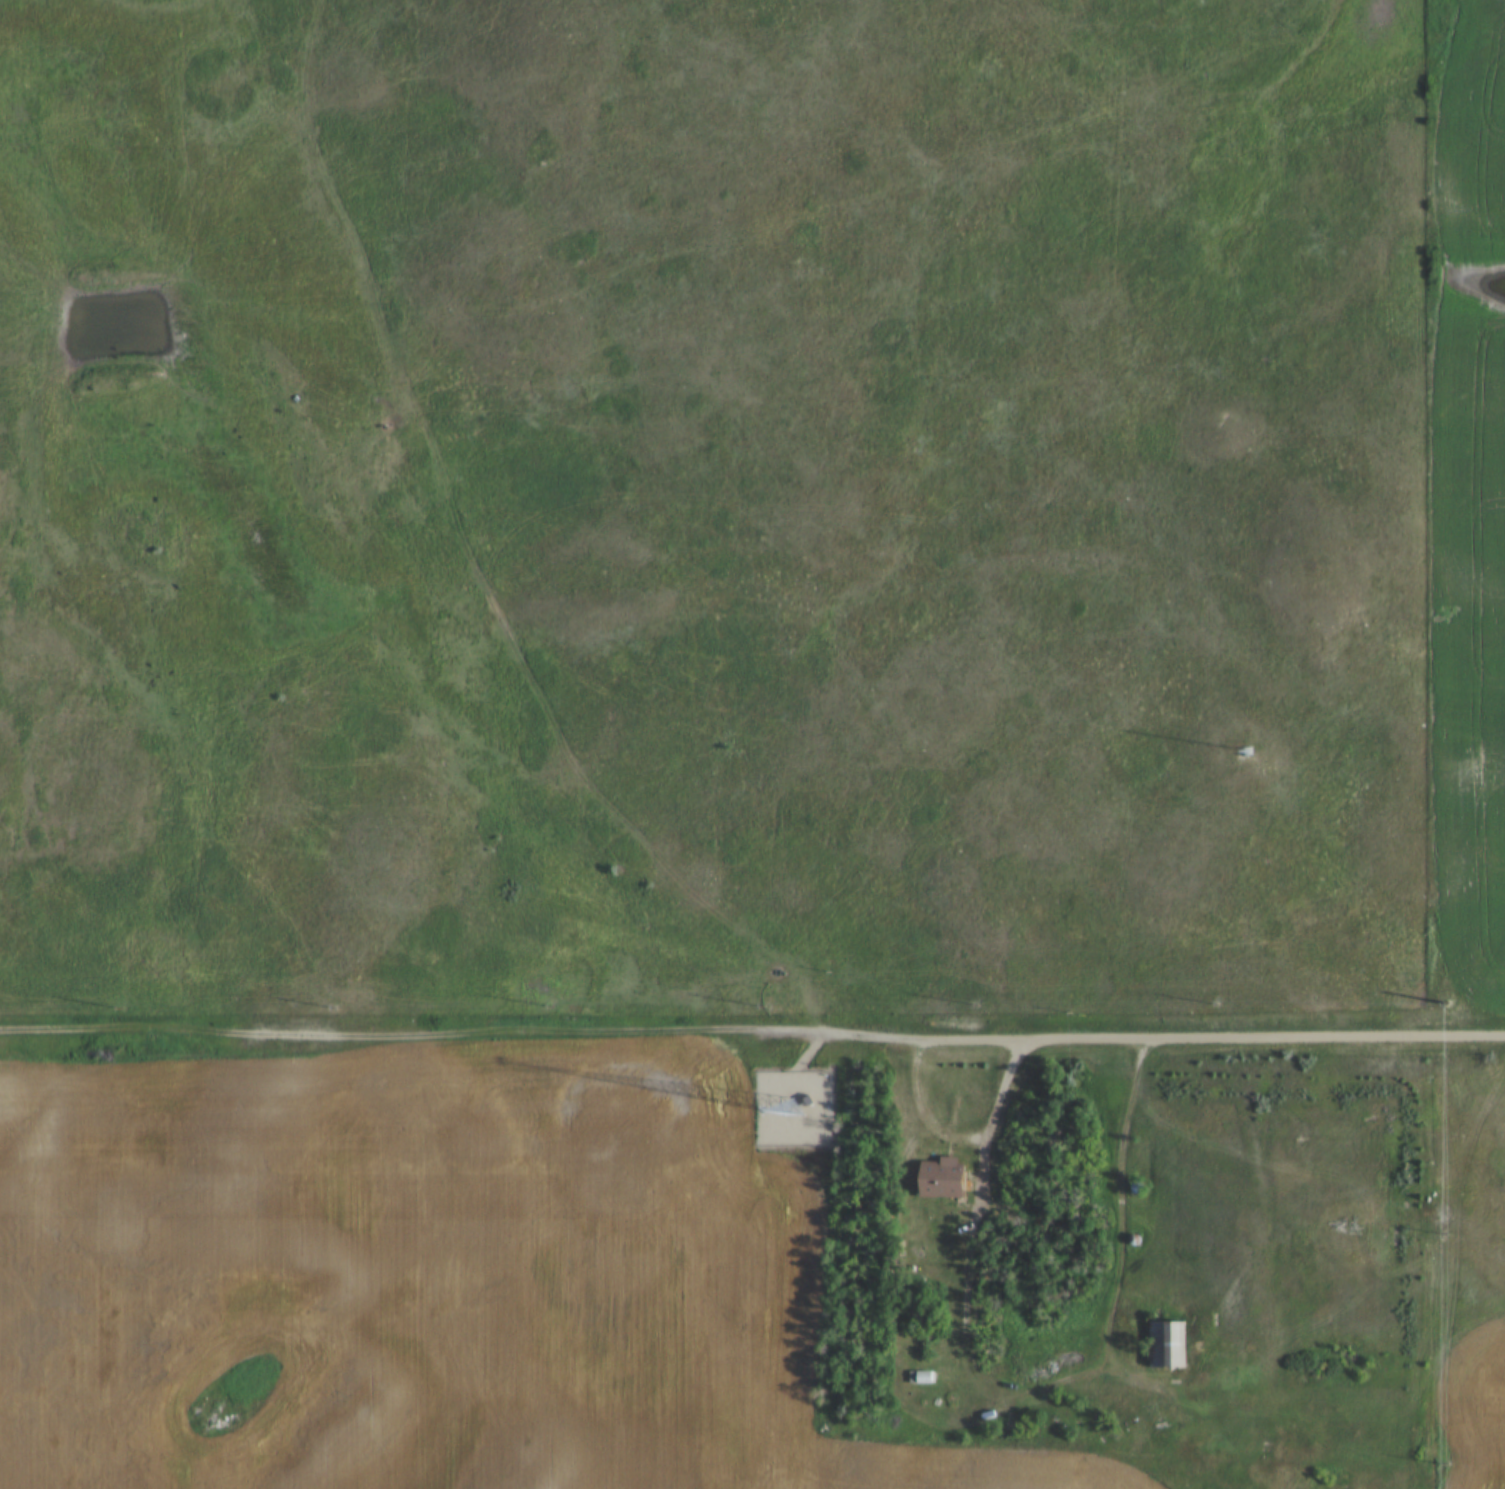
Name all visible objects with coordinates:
road: (458, 1036)
road: (1210, 1037)
building: (804, 1101)
road: (967, 1140)
building: (940, 1179)
road: (971, 1341)
building: (1166, 1344)

